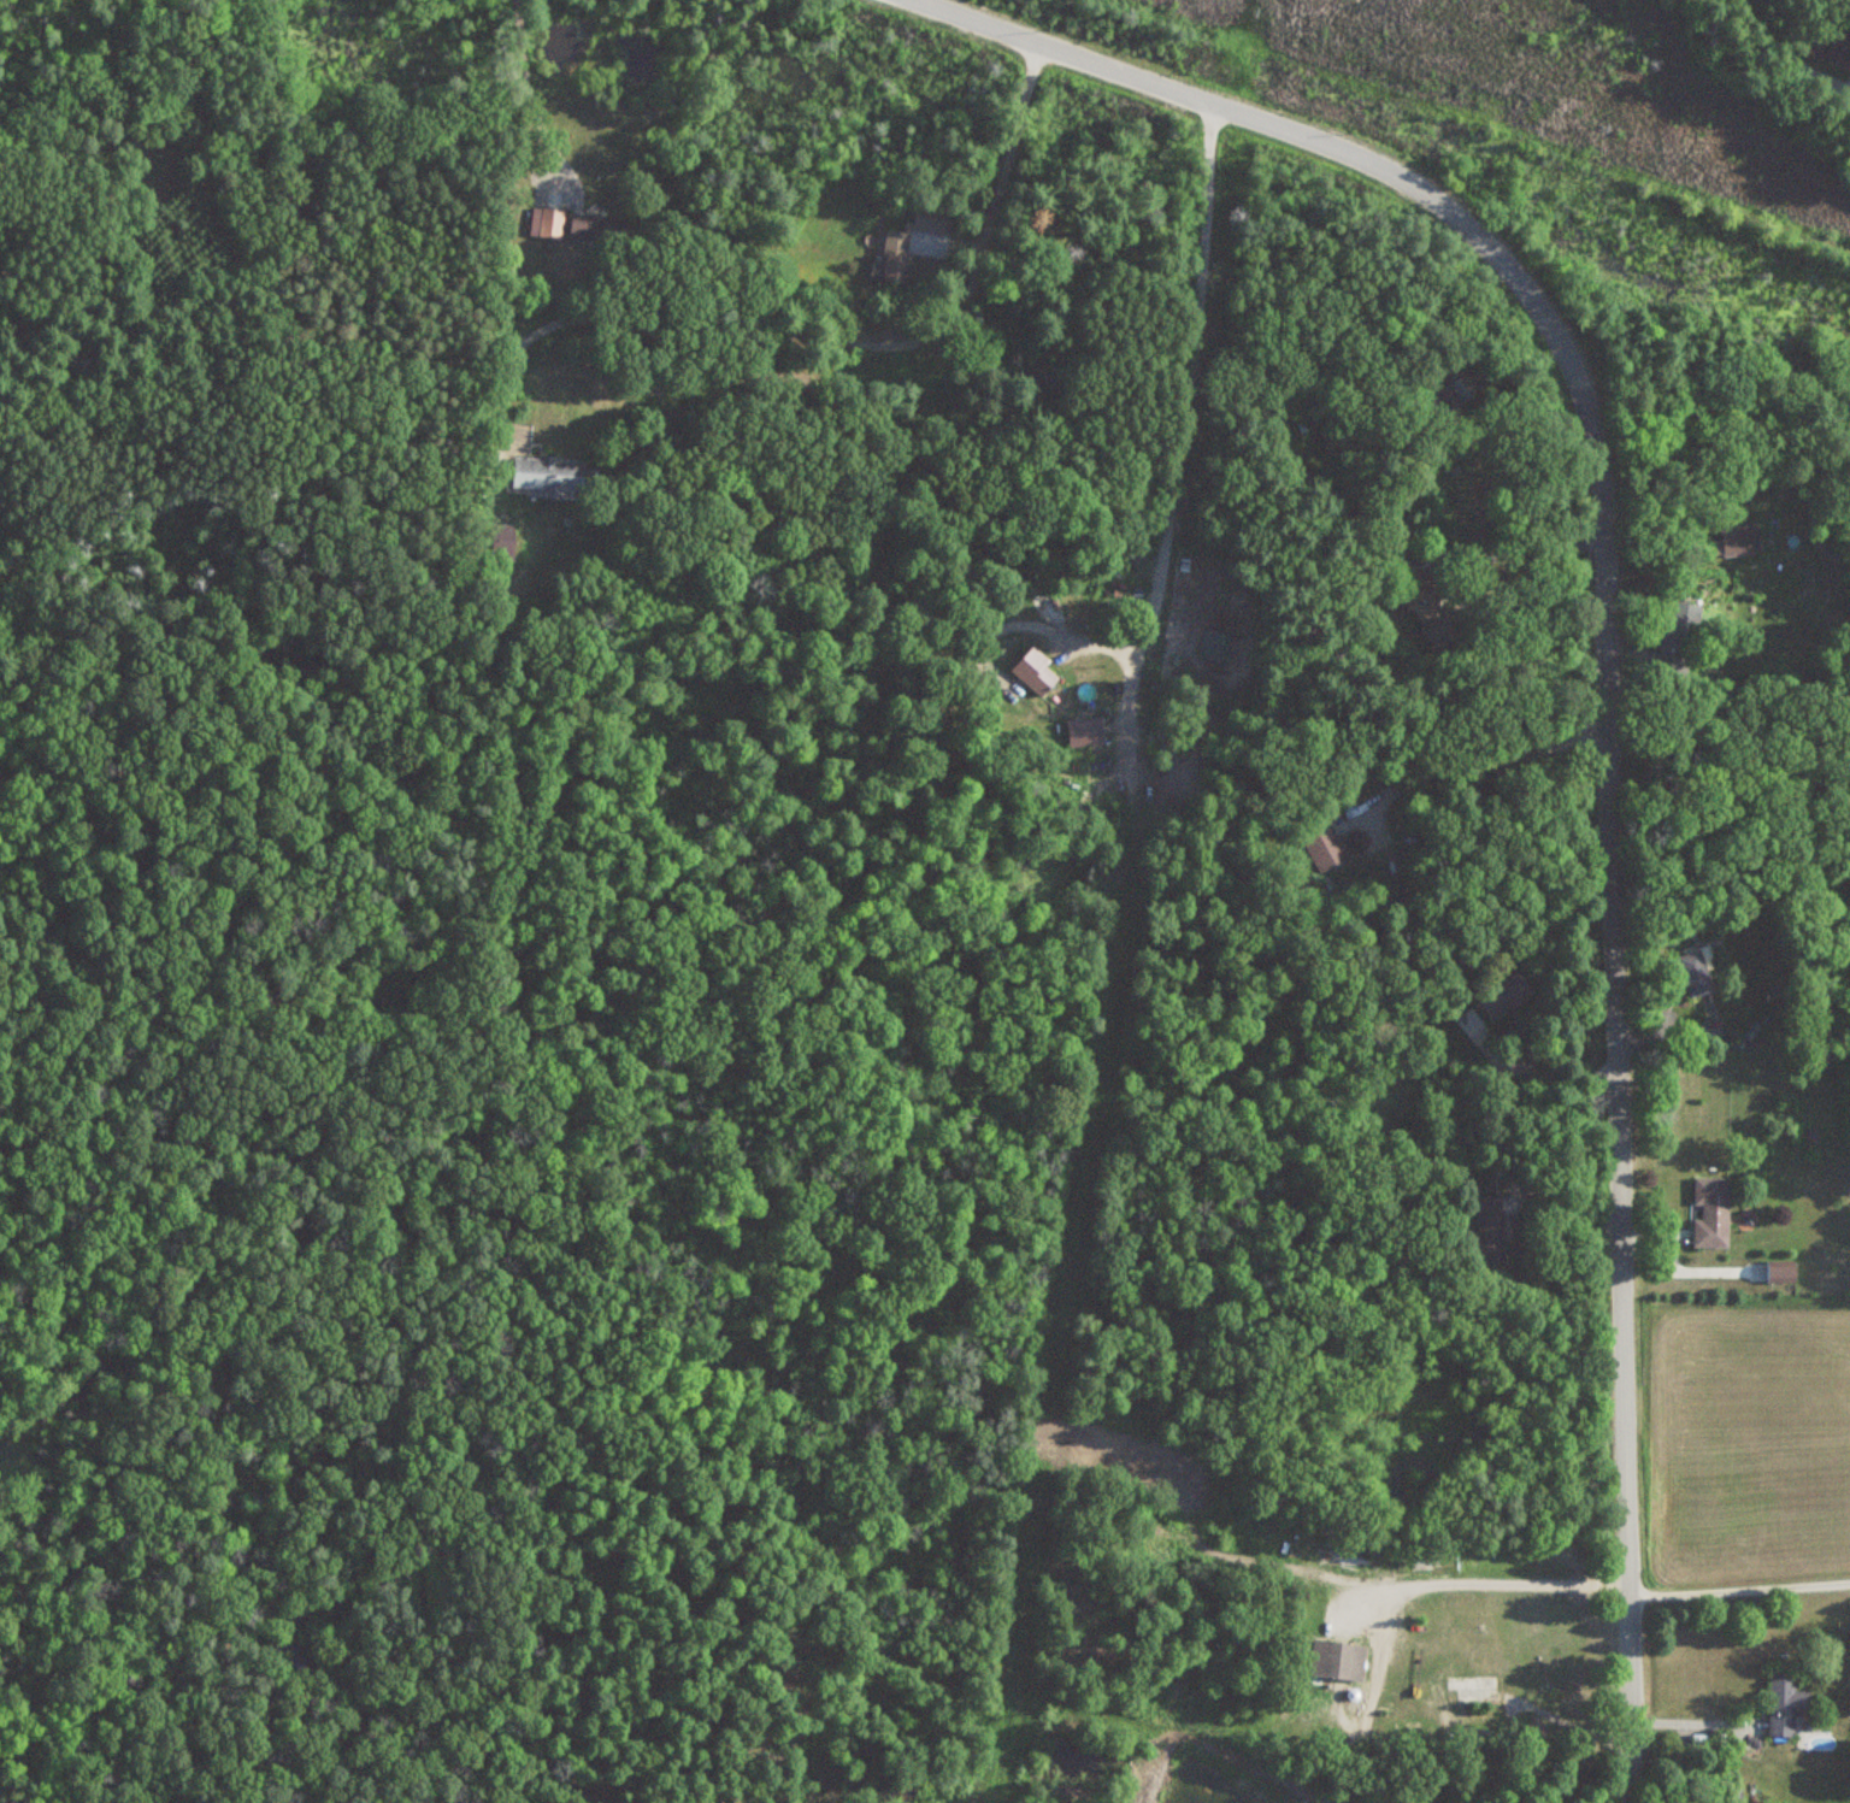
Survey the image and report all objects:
building: (1838, 48)
building: (548, 224)
building: (579, 228)
building: (907, 243)
building: (546, 473)
building: (1736, 542)
building: (1419, 612)
building: (1213, 646)
building: (1035, 672)
road: (1603, 693)
building: (1083, 732)
building: (1316, 853)
building: (1693, 972)
building: (1502, 995)
road: (1537, 1077)
building: (1709, 1213)
building: (1483, 1221)
building: (1781, 1274)
road: (1736, 1571)
building: (1337, 1660)
building: (1784, 1704)

